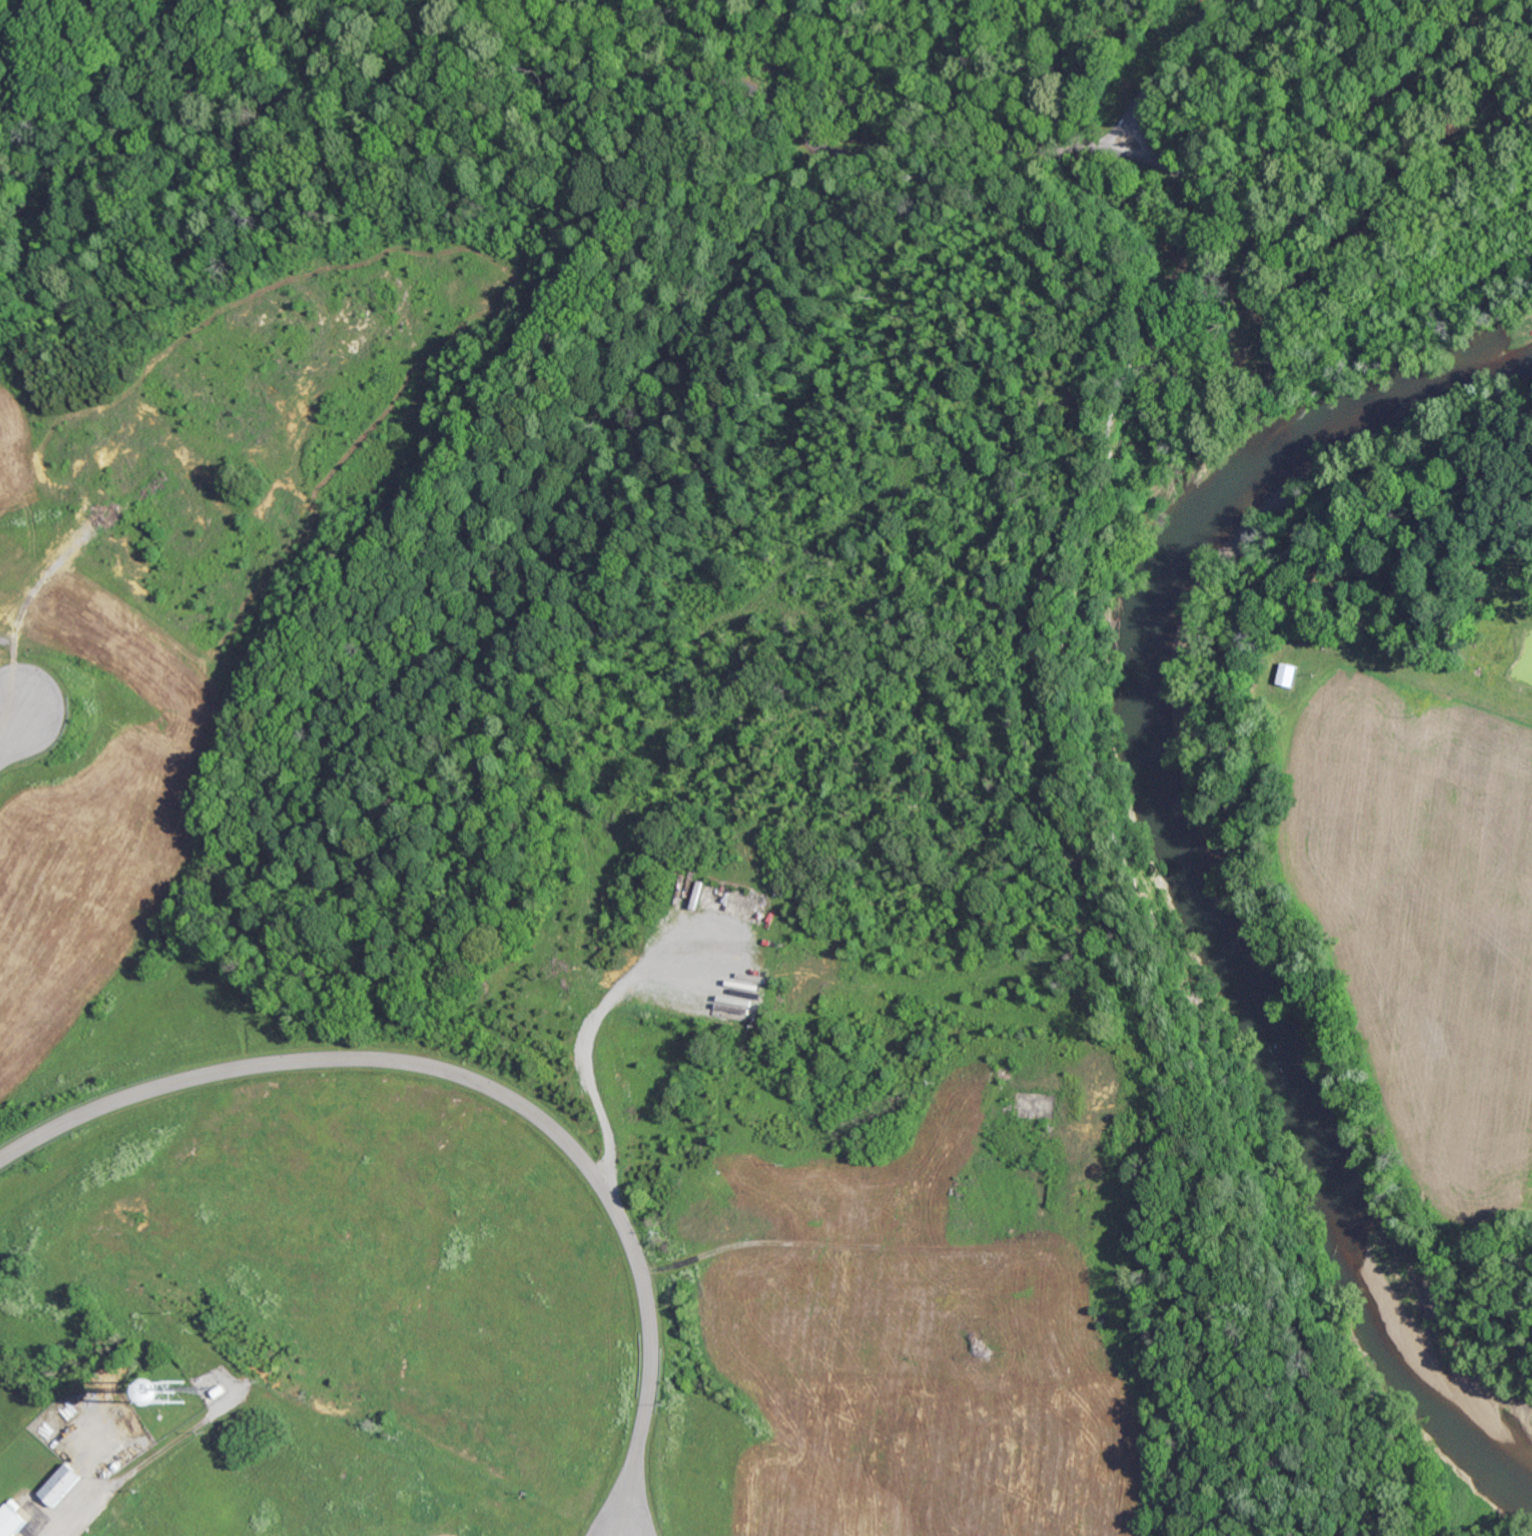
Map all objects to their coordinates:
road: (1170, 60)
road: (979, 72)
road: (498, 93)
road: (1126, 136)
road: (1267, 149)
road: (8, 728)
river: (1173, 825)
road: (486, 1091)
water tower: (172, 1393)
building: (62, 1483)
road: (94, 1510)
building: (12, 1519)

